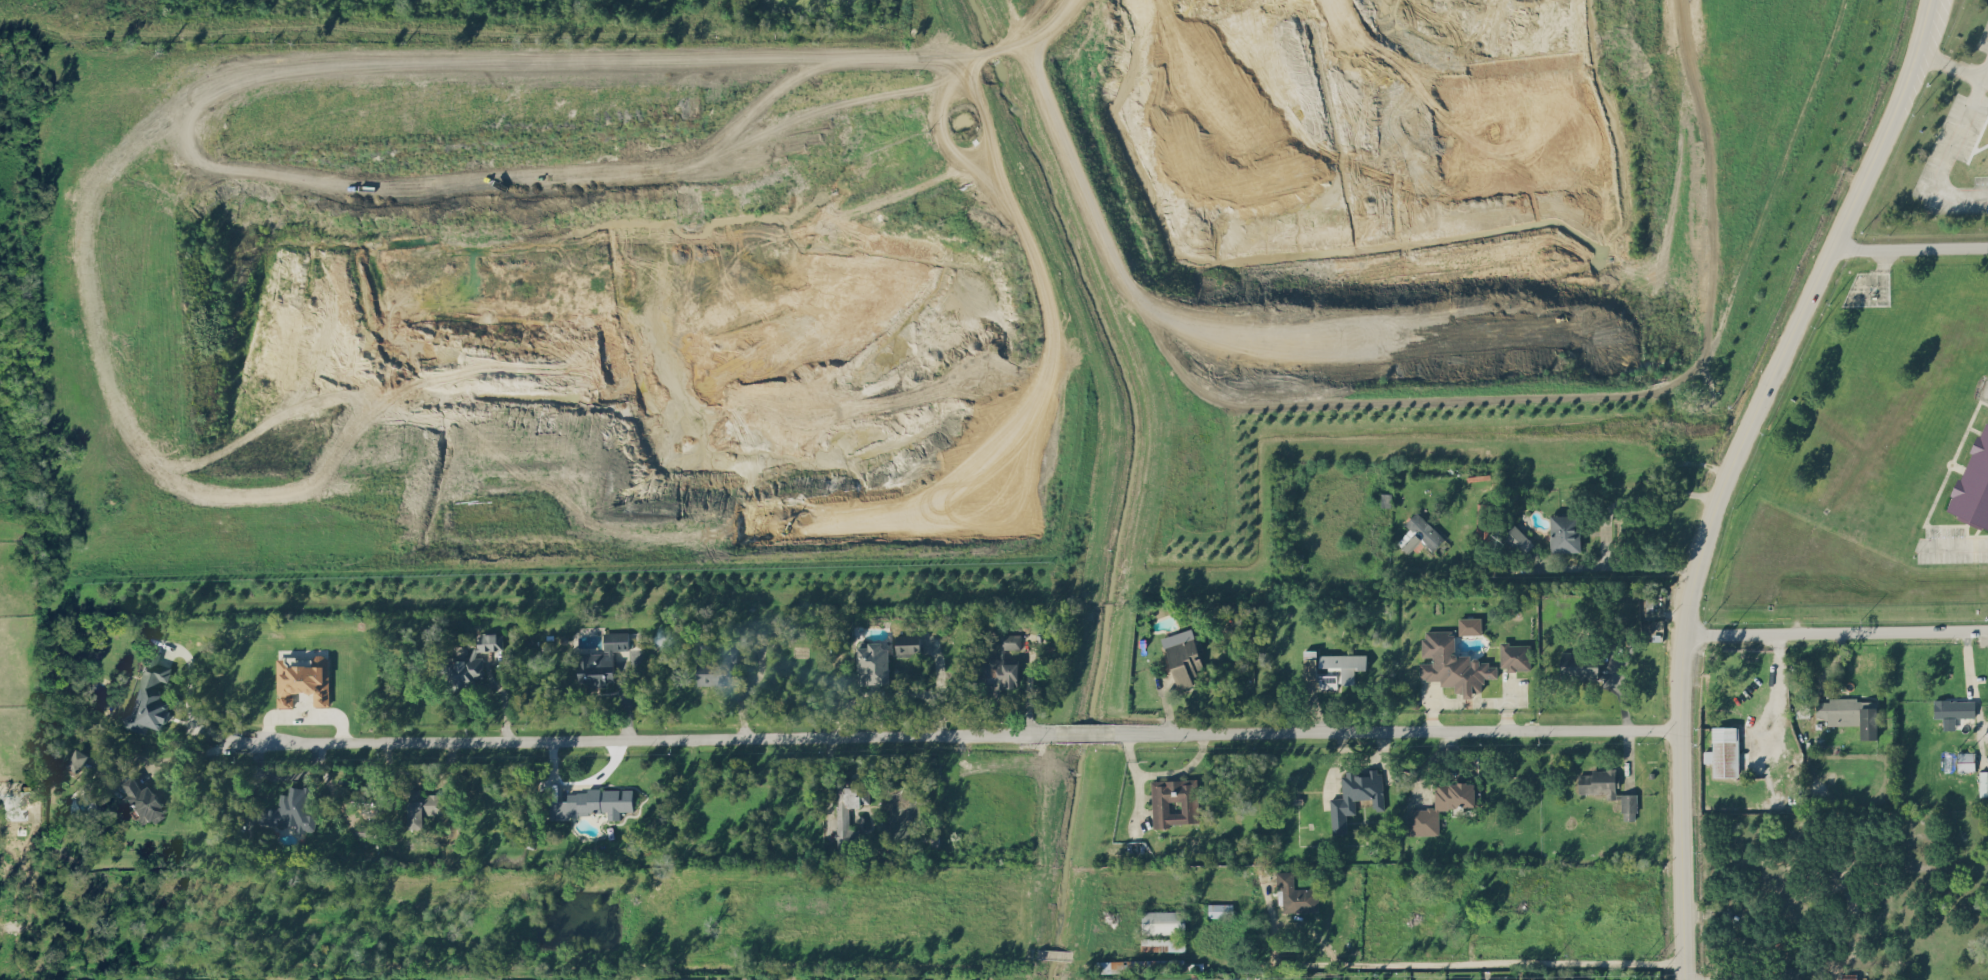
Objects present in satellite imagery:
road: (643, 60)
road: (1952, 65)
road: (1950, 153)
road: (1910, 247)
road: (1727, 472)
building: (1973, 485)
building: (1486, 520)
road: (1607, 523)
building: (1420, 532)
building: (1565, 532)
building: (1518, 539)
road: (1955, 543)
building: (1469, 625)
road: (1835, 631)
building: (1010, 639)
road: (1776, 640)
building: (907, 644)
building: (1515, 655)
building: (1183, 657)
building: (601, 659)
building: (469, 661)
building: (872, 662)
building: (1451, 663)
building: (1578, 665)
building: (709, 666)
building: (1332, 667)
building: (998, 674)
building: (302, 676)
road: (1971, 680)
road: (187, 691)
building: (150, 694)
road: (1777, 694)
building: (1953, 707)
building: (1801, 708)
building: (1849, 712)
road: (1397, 730)
road: (1084, 732)
road: (637, 736)
building: (1723, 750)
road: (182, 756)
building: (76, 759)
building: (1965, 760)
road: (418, 774)
building: (1597, 781)
building: (1983, 781)
road: (577, 785)
building: (1355, 794)
building: (141, 799)
building: (1175, 801)
building: (593, 802)
building: (365, 804)
building: (1442, 804)
building: (1629, 805)
building: (421, 806)
building: (289, 809)
building: (841, 815)
building: (366, 830)
building: (1426, 883)
building: (1293, 892)
building: (1220, 910)
building: (1162, 921)
building: (1162, 943)
road: (1451, 962)
building: (1140, 965)
building: (1792, 973)
building: (1848, 976)
building: (1326, 978)
building: (1457, 978)
building: (1497, 978)
building: (238, 979)
building: (351, 979)
building: (407, 979)
building: (517, 979)
building: (567, 979)
building: (684, 979)
building: (736, 979)
road: (788, 979)

